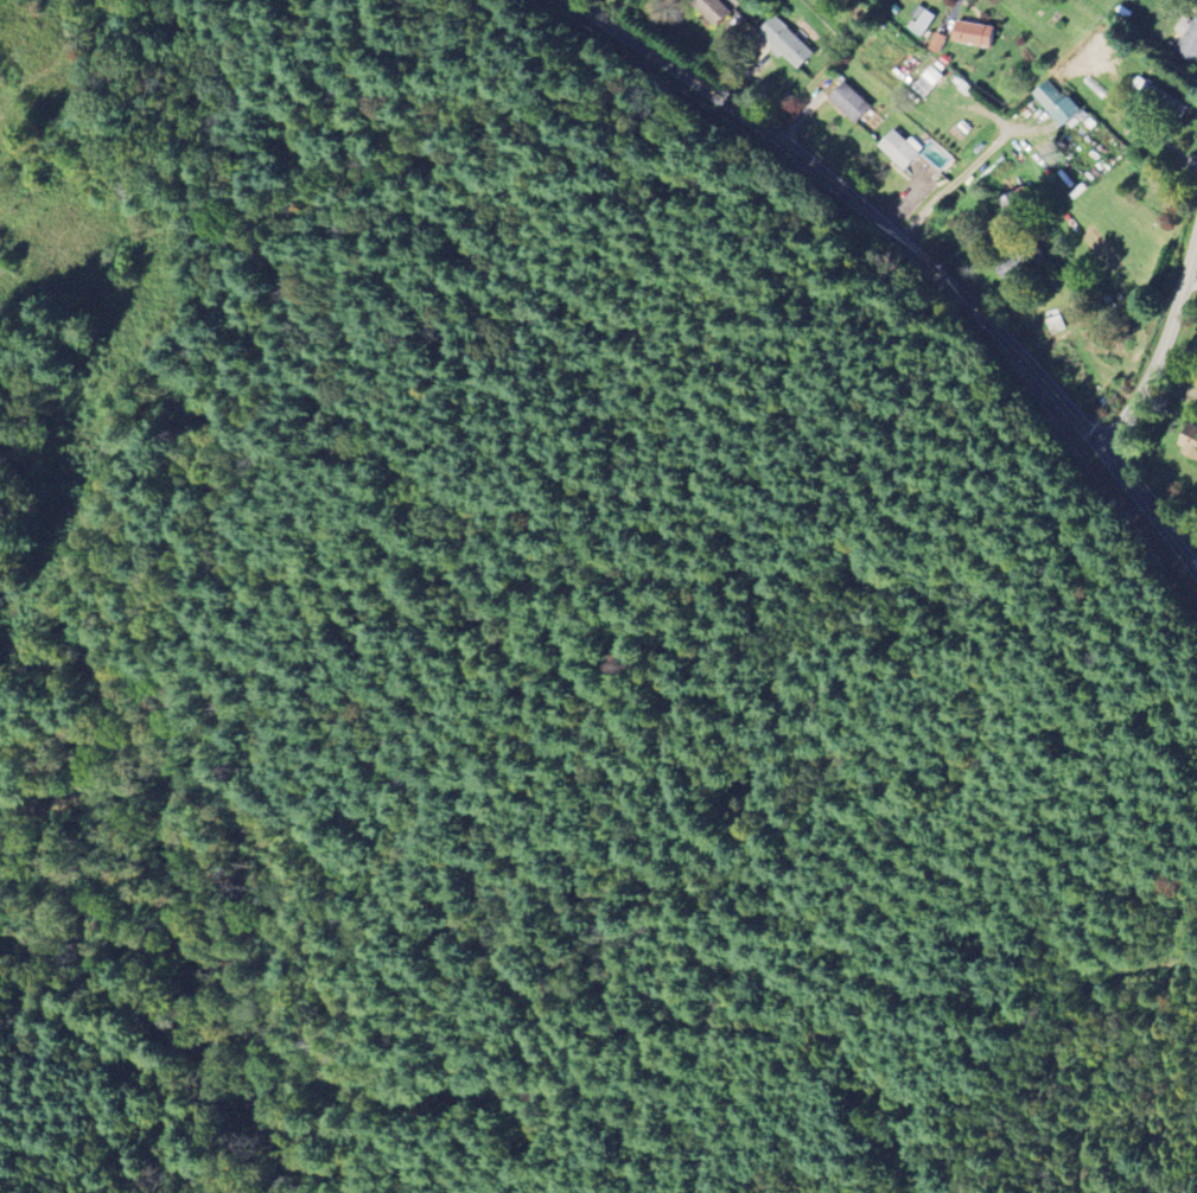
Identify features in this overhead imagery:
building: (1074, 0)
building: (711, 8)
building: (921, 20)
building: (970, 34)
building: (1186, 40)
building: (784, 43)
building: (936, 43)
building: (928, 82)
building: (1159, 97)
building: (847, 102)
building: (1055, 102)
building: (899, 148)
building: (1012, 202)
road: (642, 218)
road: (912, 254)
road: (1191, 280)
road: (1161, 353)
building: (1188, 442)
road: (182, 658)
road: (133, 759)
road: (1154, 927)
road: (851, 1021)
road: (1037, 1098)
road: (552, 1115)
road: (1101, 1156)

